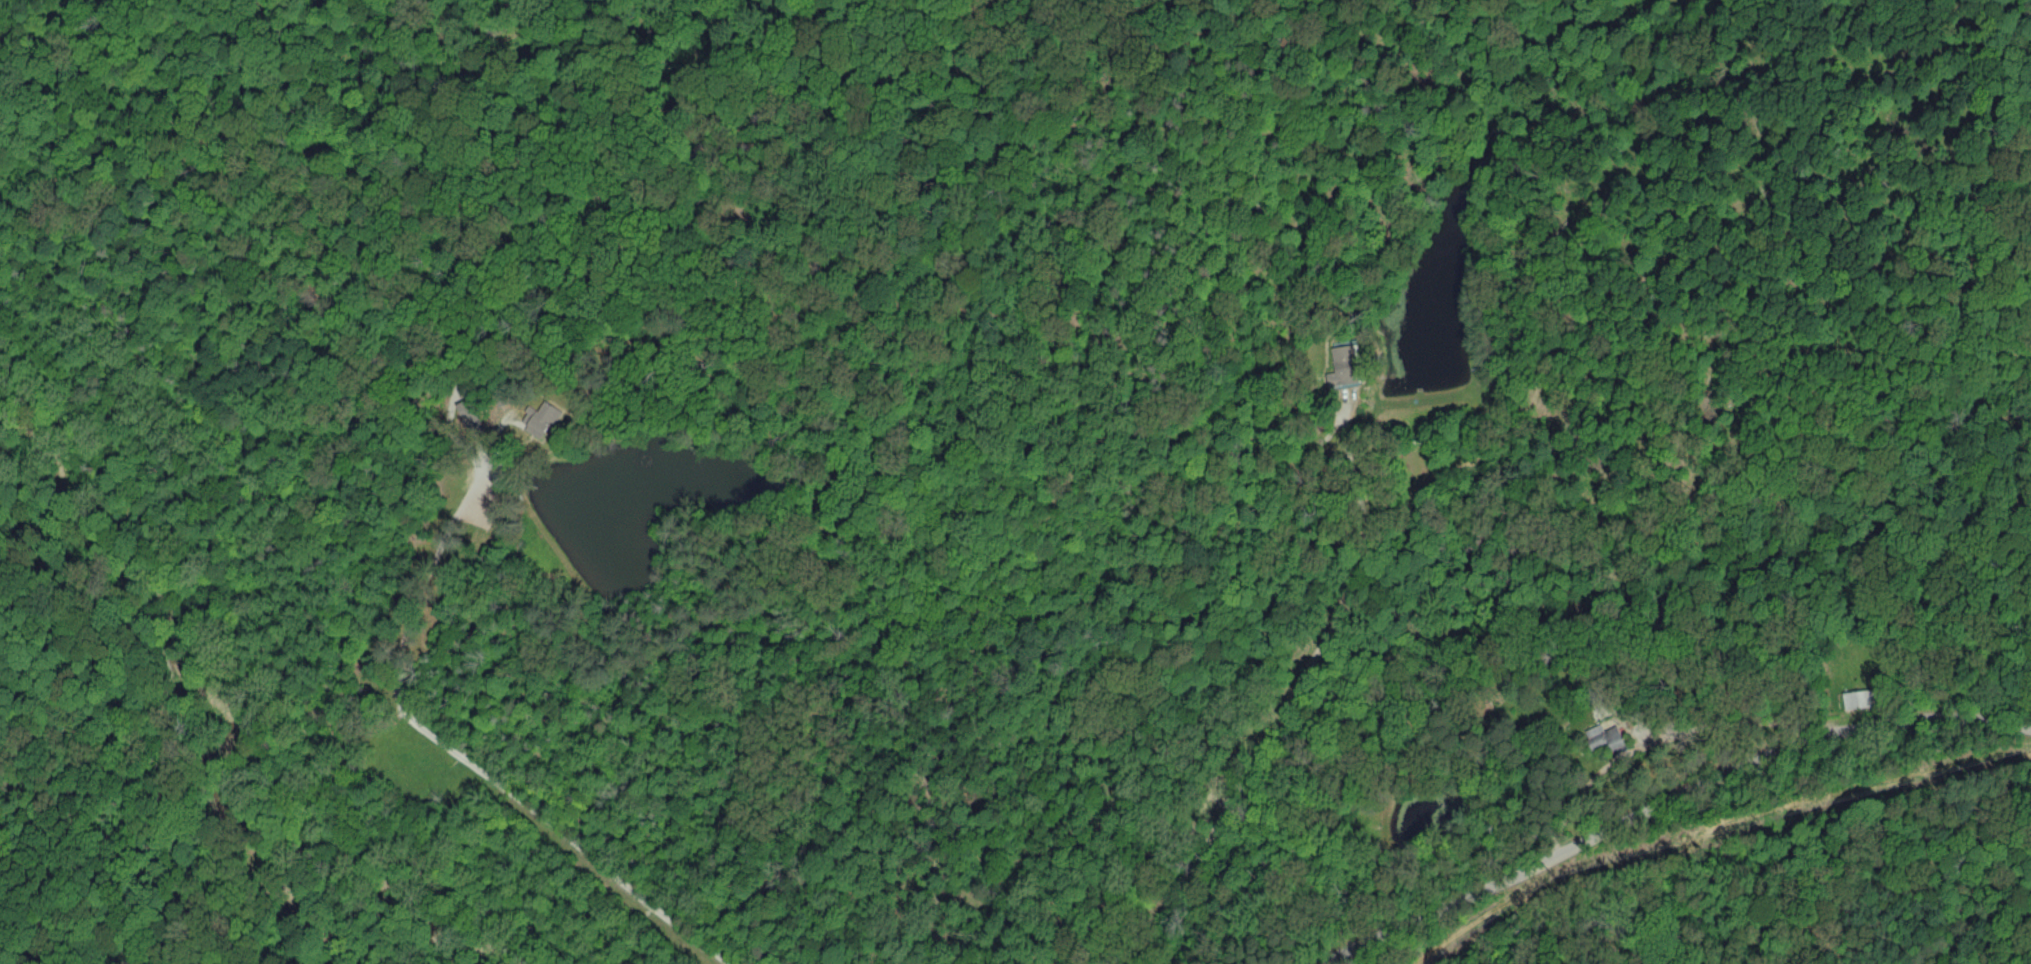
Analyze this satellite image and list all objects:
building: (1342, 371)
building: (538, 418)
road: (1296, 697)
road: (459, 753)
road: (1674, 800)

